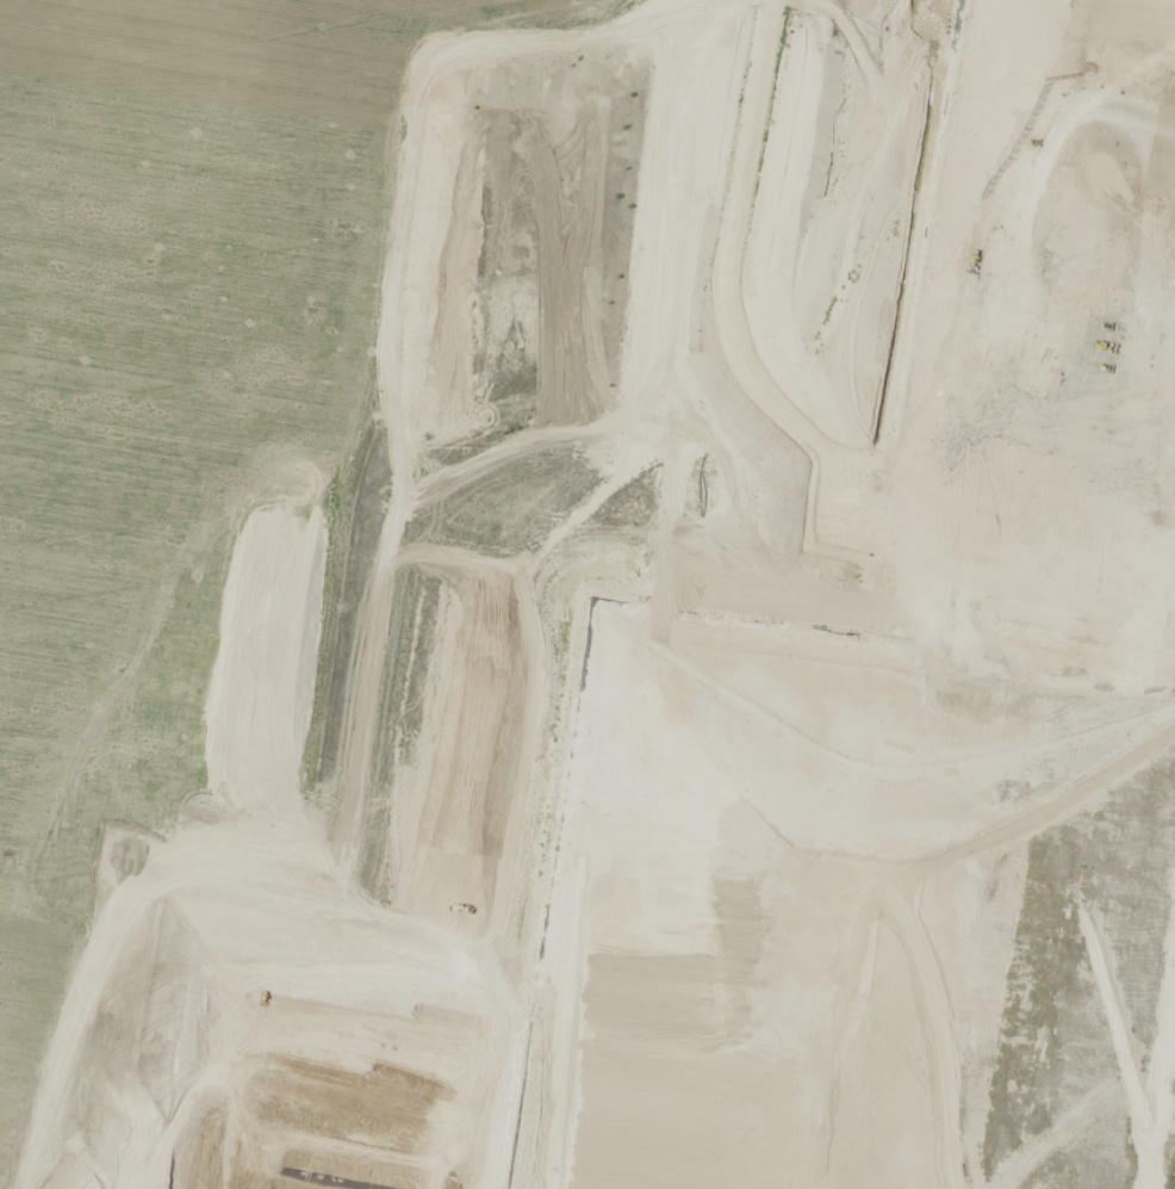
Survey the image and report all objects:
landfill: (587, 594)

